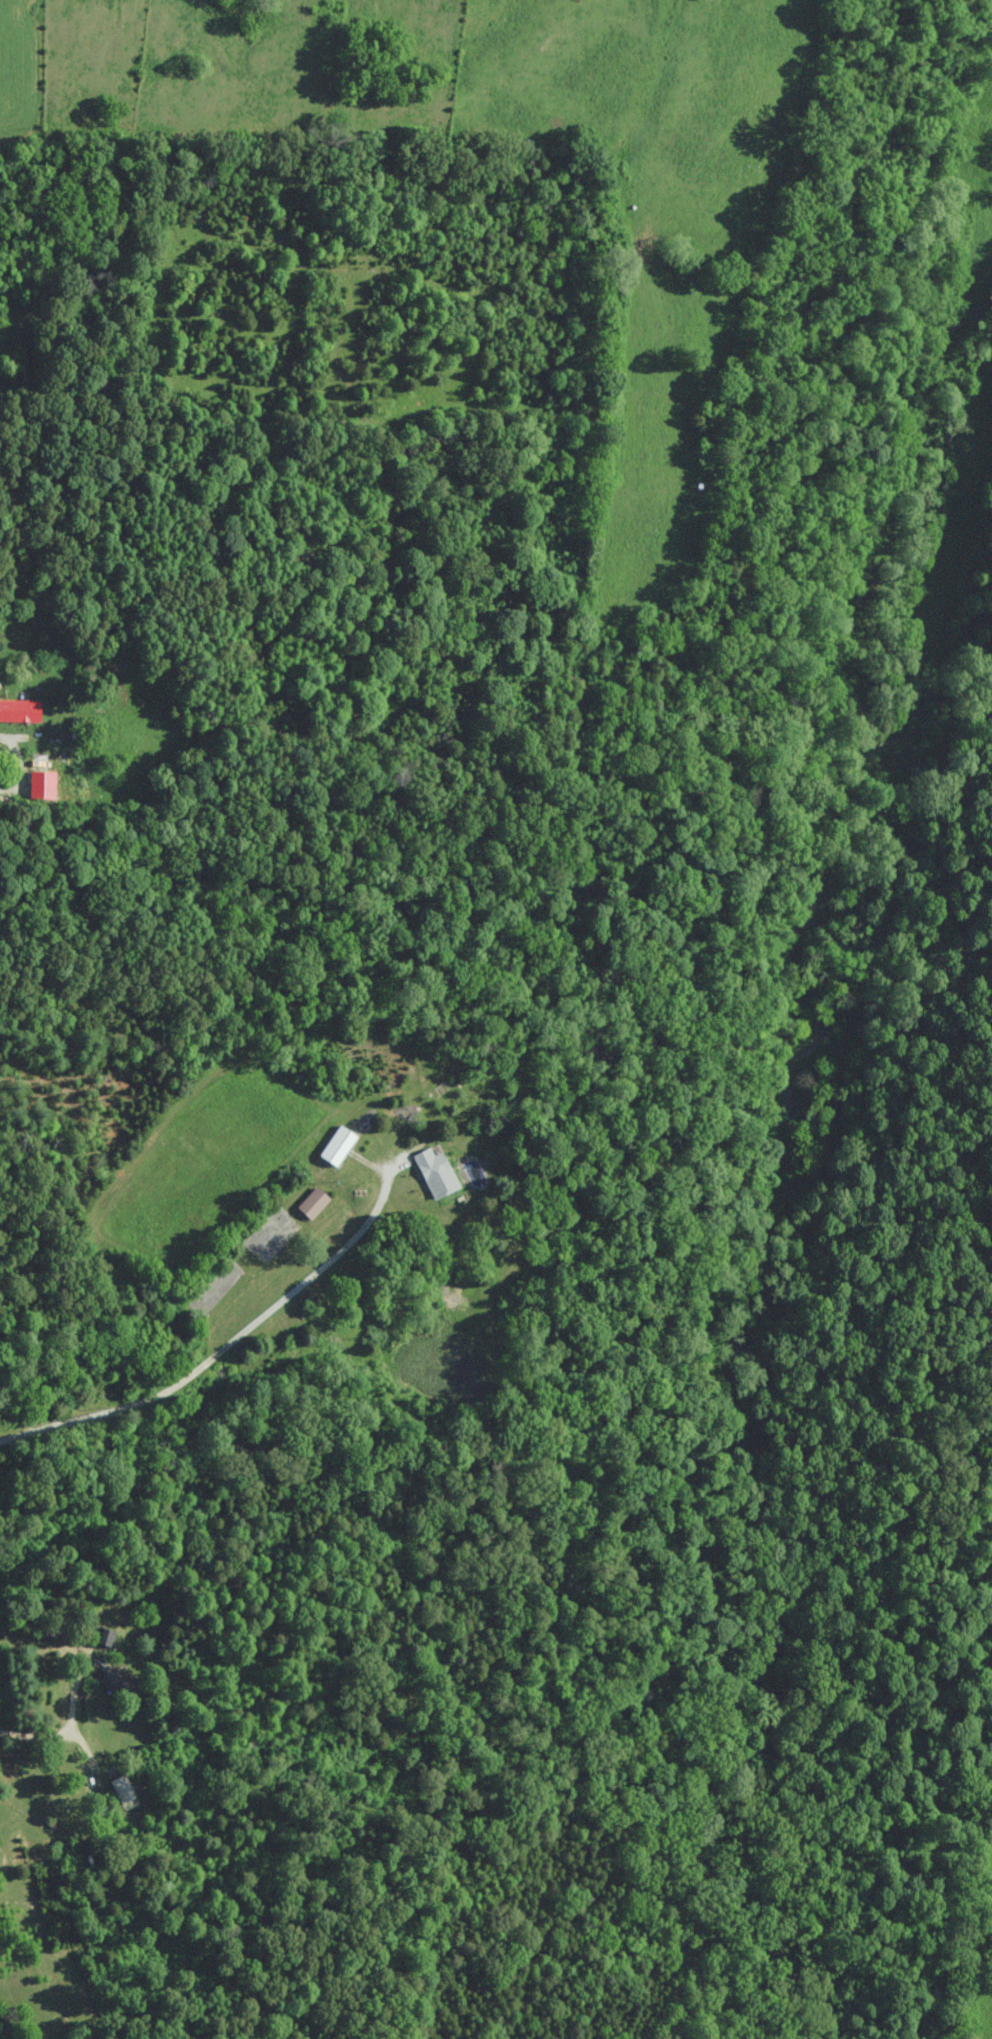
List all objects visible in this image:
road: (45, 362)
building: (19, 709)
building: (336, 1145)
building: (434, 1171)
building: (311, 1202)
road: (286, 1321)
building: (115, 1681)
building: (122, 1792)

